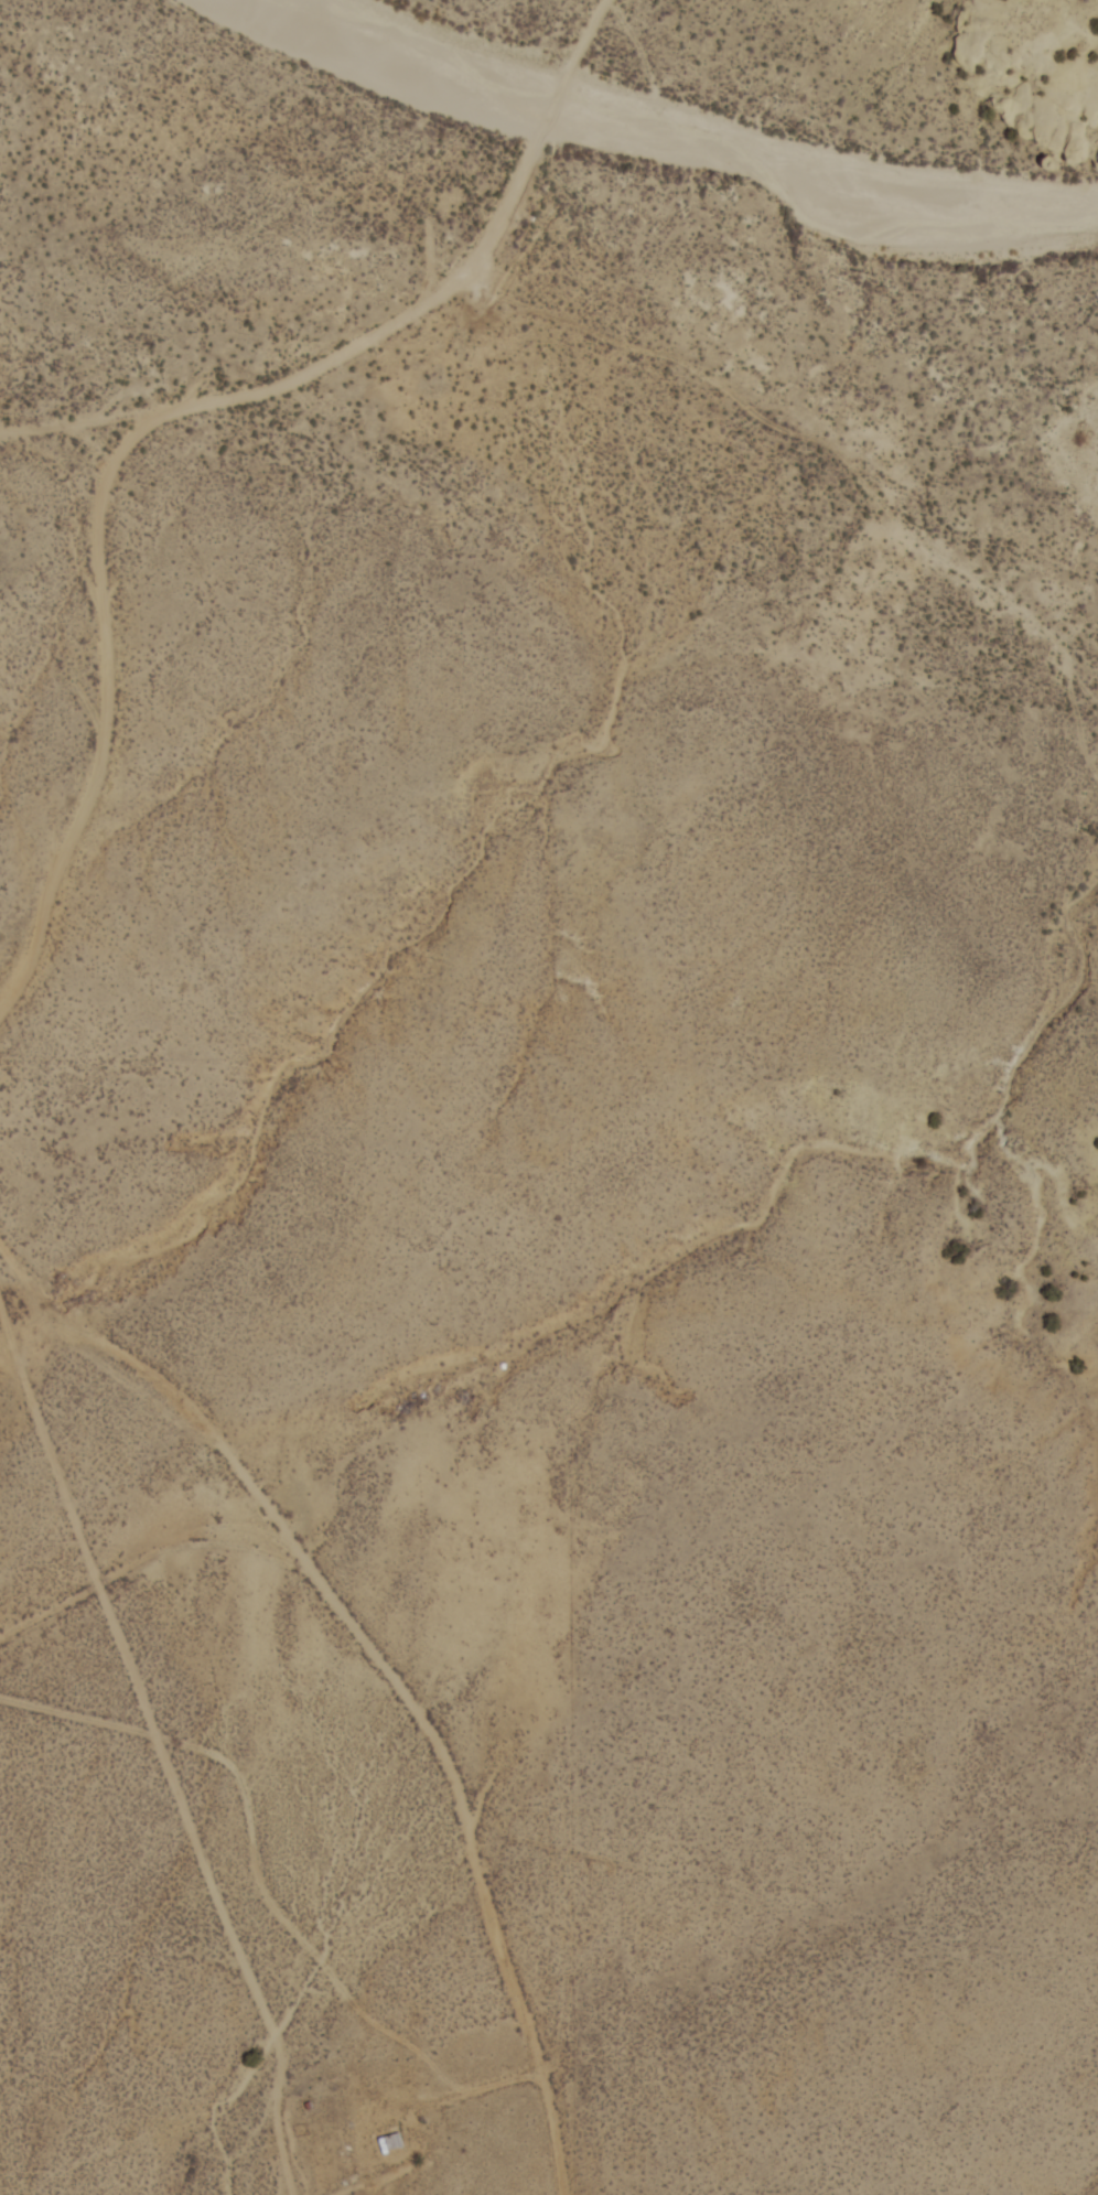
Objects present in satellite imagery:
river: (683, 125)
building: (389, 2144)

